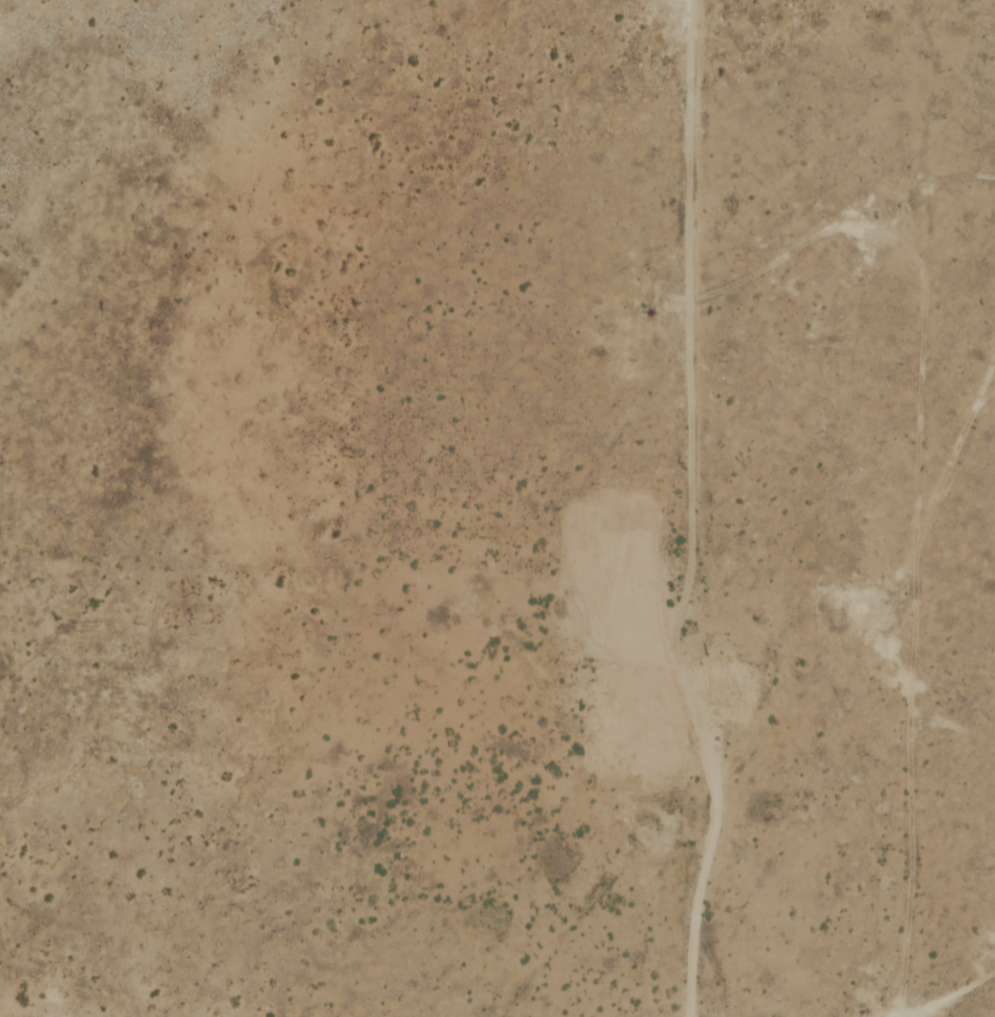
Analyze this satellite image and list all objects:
road: (832, 221)
road: (902, 252)
road: (700, 508)
road: (907, 655)
road: (951, 739)

